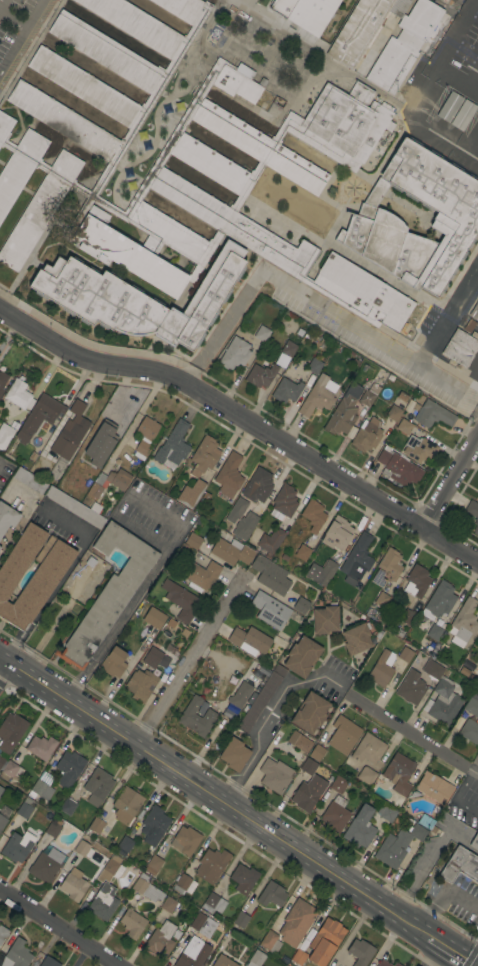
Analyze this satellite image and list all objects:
building: (281, 6)
building: (311, 16)
road: (14, 20)
building: (361, 28)
parking lot: (18, 29)
road: (22, 38)
building: (404, 45)
road: (441, 56)
road: (472, 81)
parking lot: (449, 93)
building: (448, 106)
building: (461, 114)
road: (471, 147)
building: (182, 161)
building: (371, 218)
building: (138, 298)
road: (310, 298)
building: (474, 311)
road: (445, 312)
building: (262, 333)
parking lot: (363, 338)
building: (290, 347)
building: (460, 347)
building: (234, 353)
building: (314, 366)
parking lot: (473, 372)
building: (260, 375)
building: (2, 381)
building: (286, 390)
building: (369, 394)
building: (19, 395)
building: (318, 395)
building: (394, 412)
building: (434, 414)
building: (38, 416)
building: (342, 416)
road: (245, 420)
building: (74, 424)
building: (404, 426)
building: (5, 434)
building: (145, 434)
building: (367, 435)
building: (105, 439)
building: (173, 444)
building: (419, 448)
building: (203, 455)
building: (47, 459)
building: (398, 468)
building: (228, 475)
building: (30, 480)
building: (109, 482)
building: (82, 484)
building: (258, 484)
road: (450, 485)
building: (477, 489)
building: (190, 493)
building: (477, 496)
building: (283, 502)
building: (74, 507)
building: (258, 509)
building: (473, 513)
building: (313, 515)
building: (7, 517)
road: (166, 518)
road: (22, 520)
building: (249, 520)
building: (267, 522)
building: (338, 533)
building: (193, 541)
building: (269, 541)
building: (0, 547)
building: (231, 551)
building: (302, 552)
building: (357, 560)
building: (390, 564)
building: (321, 572)
building: (270, 574)
building: (201, 575)
road: (62, 577)
building: (378, 578)
building: (418, 580)
building: (40, 584)
building: (108, 594)
road: (134, 597)
building: (382, 599)
building: (440, 599)
building: (180, 600)
building: (301, 605)
building: (270, 610)
building: (154, 617)
building: (407, 617)
building: (325, 618)
building: (464, 620)
road: (53, 623)
building: (434, 632)
building: (356, 638)
building: (249, 640)
building: (477, 640)
building: (178, 642)
building: (405, 654)
building: (154, 656)
building: (301, 656)
road: (192, 660)
building: (114, 662)
building: (477, 663)
building: (382, 668)
road: (5, 671)
building: (140, 684)
building: (411, 687)
building: (240, 694)
building: (441, 695)
building: (261, 698)
building: (471, 707)
building: (310, 712)
building: (196, 717)
road: (265, 718)
building: (470, 731)
building: (10, 733)
road: (411, 734)
building: (343, 735)
building: (299, 741)
building: (41, 747)
building: (368, 748)
building: (317, 752)
building: (234, 754)
building: (308, 766)
building: (69, 768)
building: (12, 769)
building: (399, 773)
building: (366, 775)
building: (273, 776)
building: (338, 784)
building: (97, 786)
building: (434, 787)
building: (41, 789)
building: (1, 790)
building: (308, 793)
road: (215, 796)
building: (126, 804)
building: (68, 806)
building: (26, 808)
building: (386, 813)
building: (335, 814)
building: (425, 821)
building: (2, 822)
building: (96, 825)
building: (154, 825)
building: (53, 828)
building: (359, 828)
building: (433, 829)
building: (418, 832)
building: (185, 840)
building: (474, 841)
building: (125, 844)
building: (15, 848)
building: (392, 848)
building: (83, 849)
building: (154, 863)
building: (211, 864)
building: (460, 865)
building: (45, 866)
building: (111, 869)
building: (243, 879)
building: (184, 884)
building: (73, 885)
building: (147, 888)
building: (271, 895)
road: (441, 896)
building: (103, 902)
building: (213, 903)
building: (168, 904)
building: (240, 919)
building: (296, 922)
building: (132, 923)
building: (275, 923)
road: (63, 924)
building: (200, 924)
building: (3, 933)
building: (176, 934)
building: (215, 934)
building: (161, 939)
building: (325, 941)
building: (270, 942)
building: (360, 952)
road: (450, 952)
building: (193, 953)
building: (16, 954)
building: (298, 957)
building: (256, 958)
building: (223, 961)
building: (48, 962)
building: (372, 963)
building: (383, 963)
building: (397, 964)
building: (413, 965)

